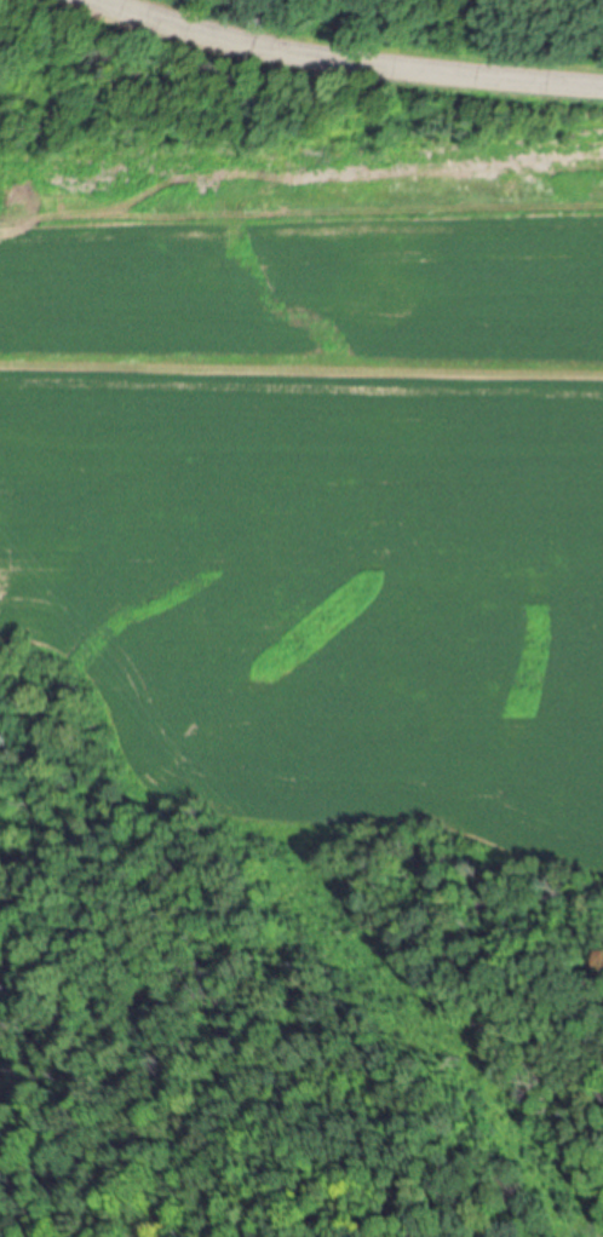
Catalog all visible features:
road: (332, 68)

